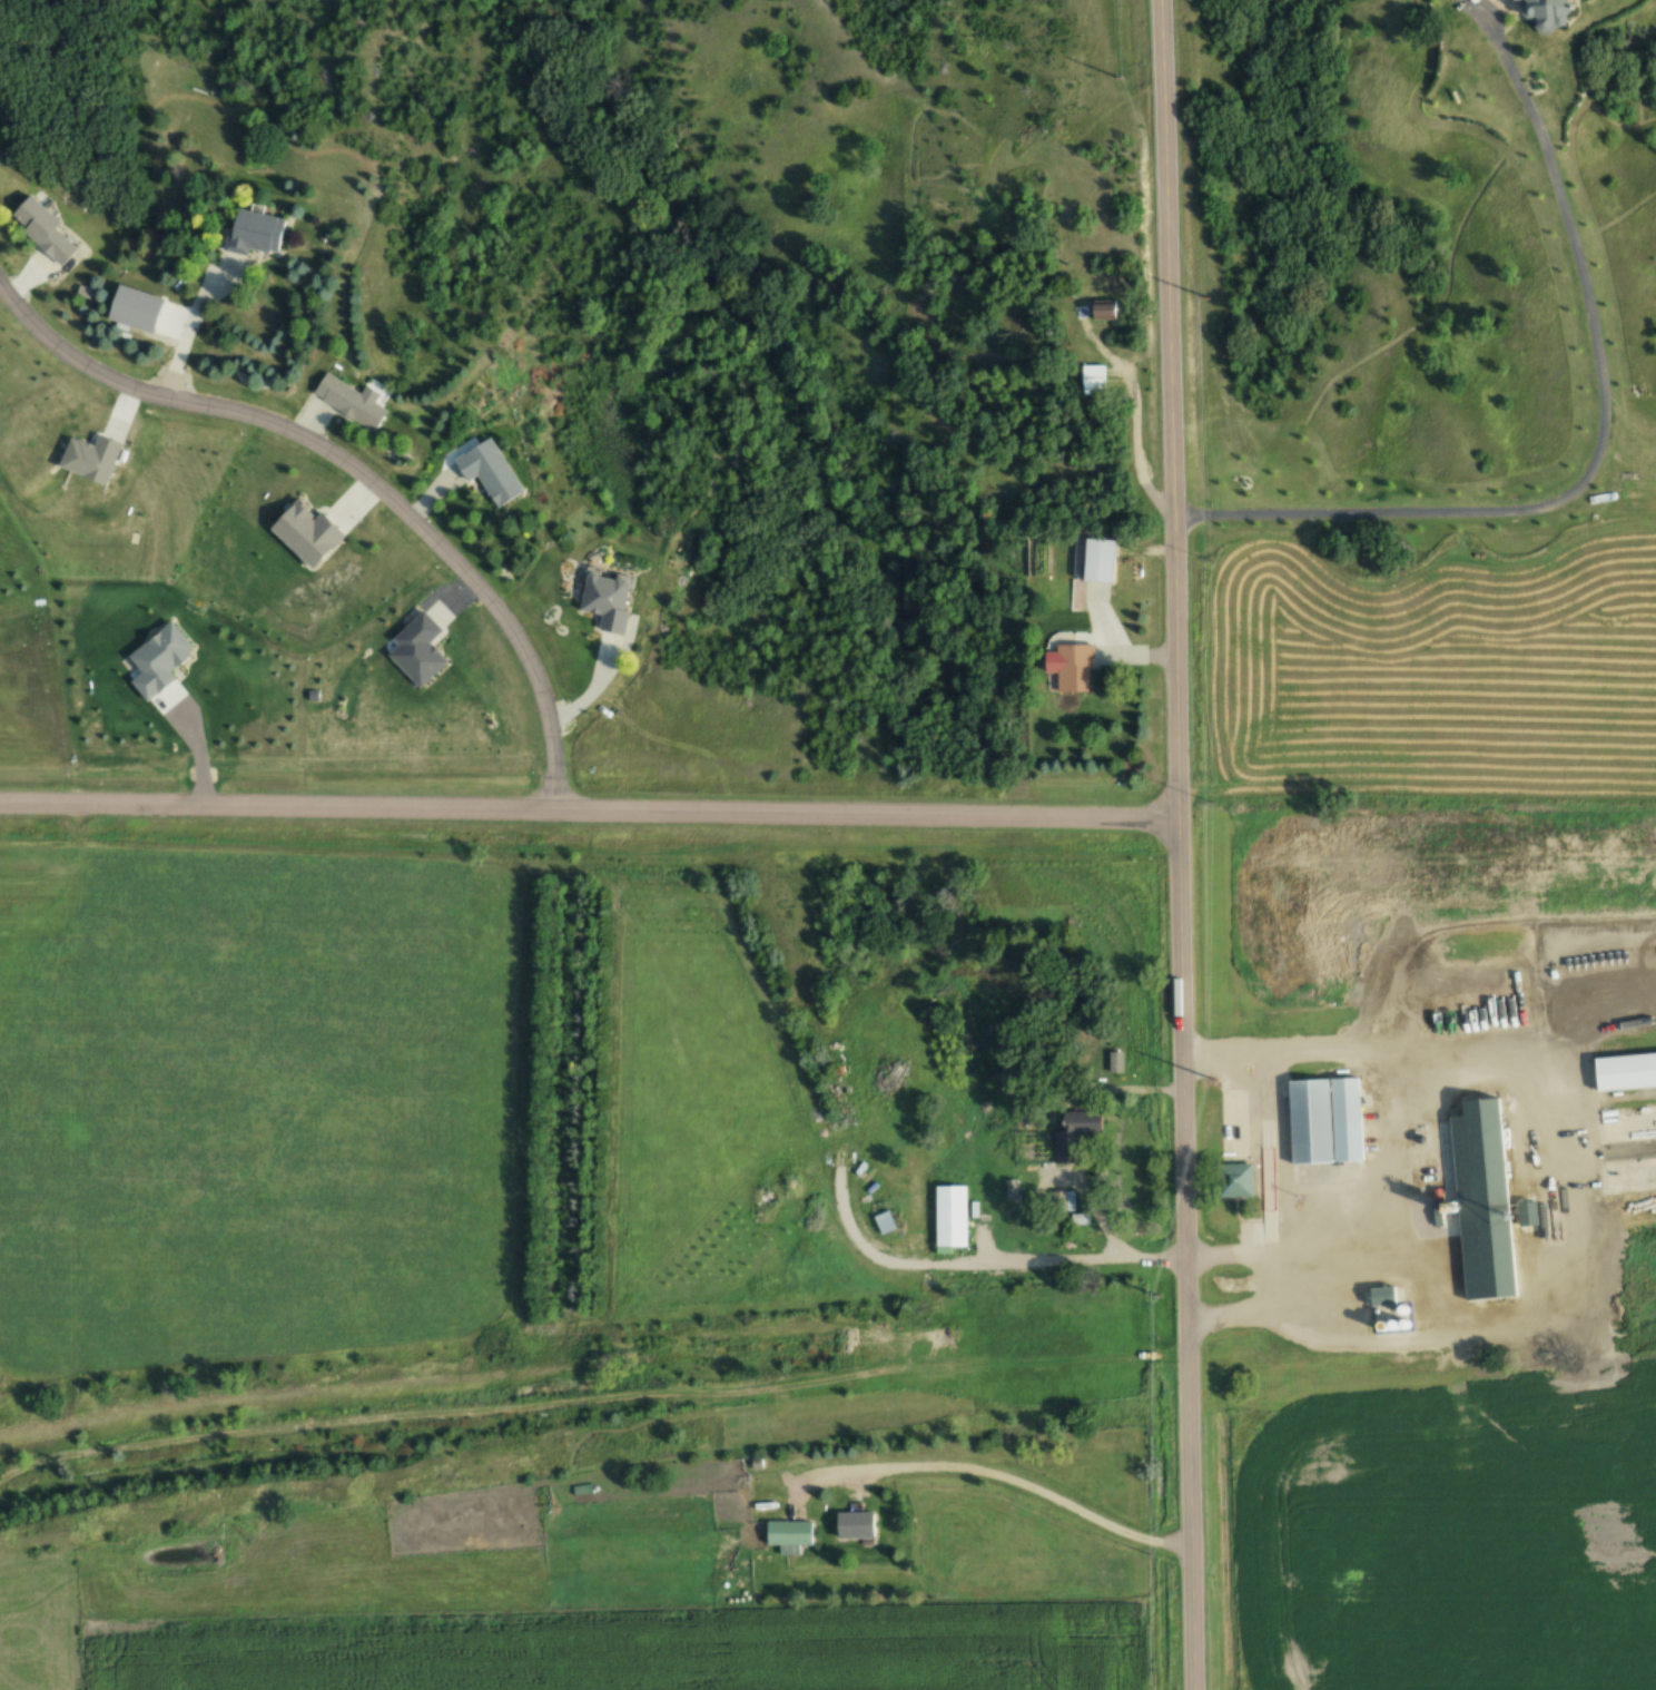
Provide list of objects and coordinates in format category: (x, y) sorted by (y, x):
building: (1538, 12)
building: (259, 230)
building: (49, 232)
road: (1087, 275)
building: (138, 307)
building: (1110, 309)
road: (197, 312)
building: (1097, 376)
building: (353, 401)
road: (1161, 448)
road: (1603, 448)
road: (352, 465)
building: (494, 472)
building: (1101, 558)
building: (612, 600)
building: (1078, 668)
road: (607, 674)
road: (591, 807)
road: (1183, 844)
building: (1118, 1063)
building: (1626, 1070)
building: (1311, 1119)
building: (1084, 1122)
building: (1228, 1181)
building: (1479, 1200)
building: (985, 1210)
building: (949, 1214)
building: (1524, 1215)
building: (888, 1222)
road: (1238, 1249)
building: (1378, 1297)
road: (1283, 1305)
road: (1033, 1482)
building: (859, 1524)
building: (792, 1532)
crop: (1450, 1539)

